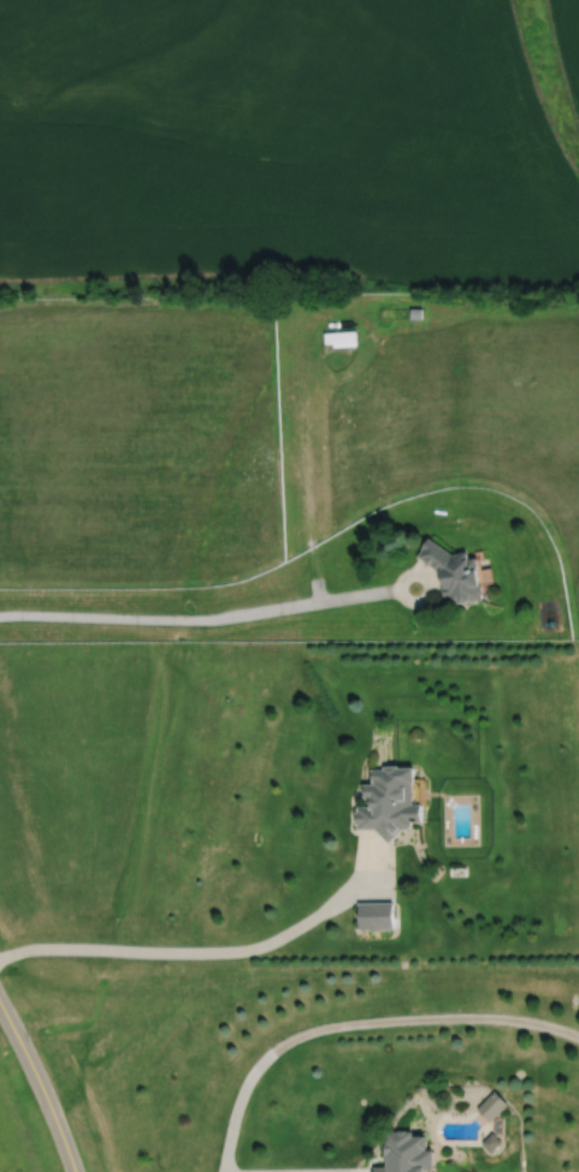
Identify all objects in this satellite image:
crop: (288, 147)
building: (339, 340)
building: (455, 573)
road: (207, 619)
building: (384, 801)
building: (373, 915)
road: (191, 950)
road: (360, 1027)
road: (39, 1088)
building: (490, 1106)
building: (403, 1153)

